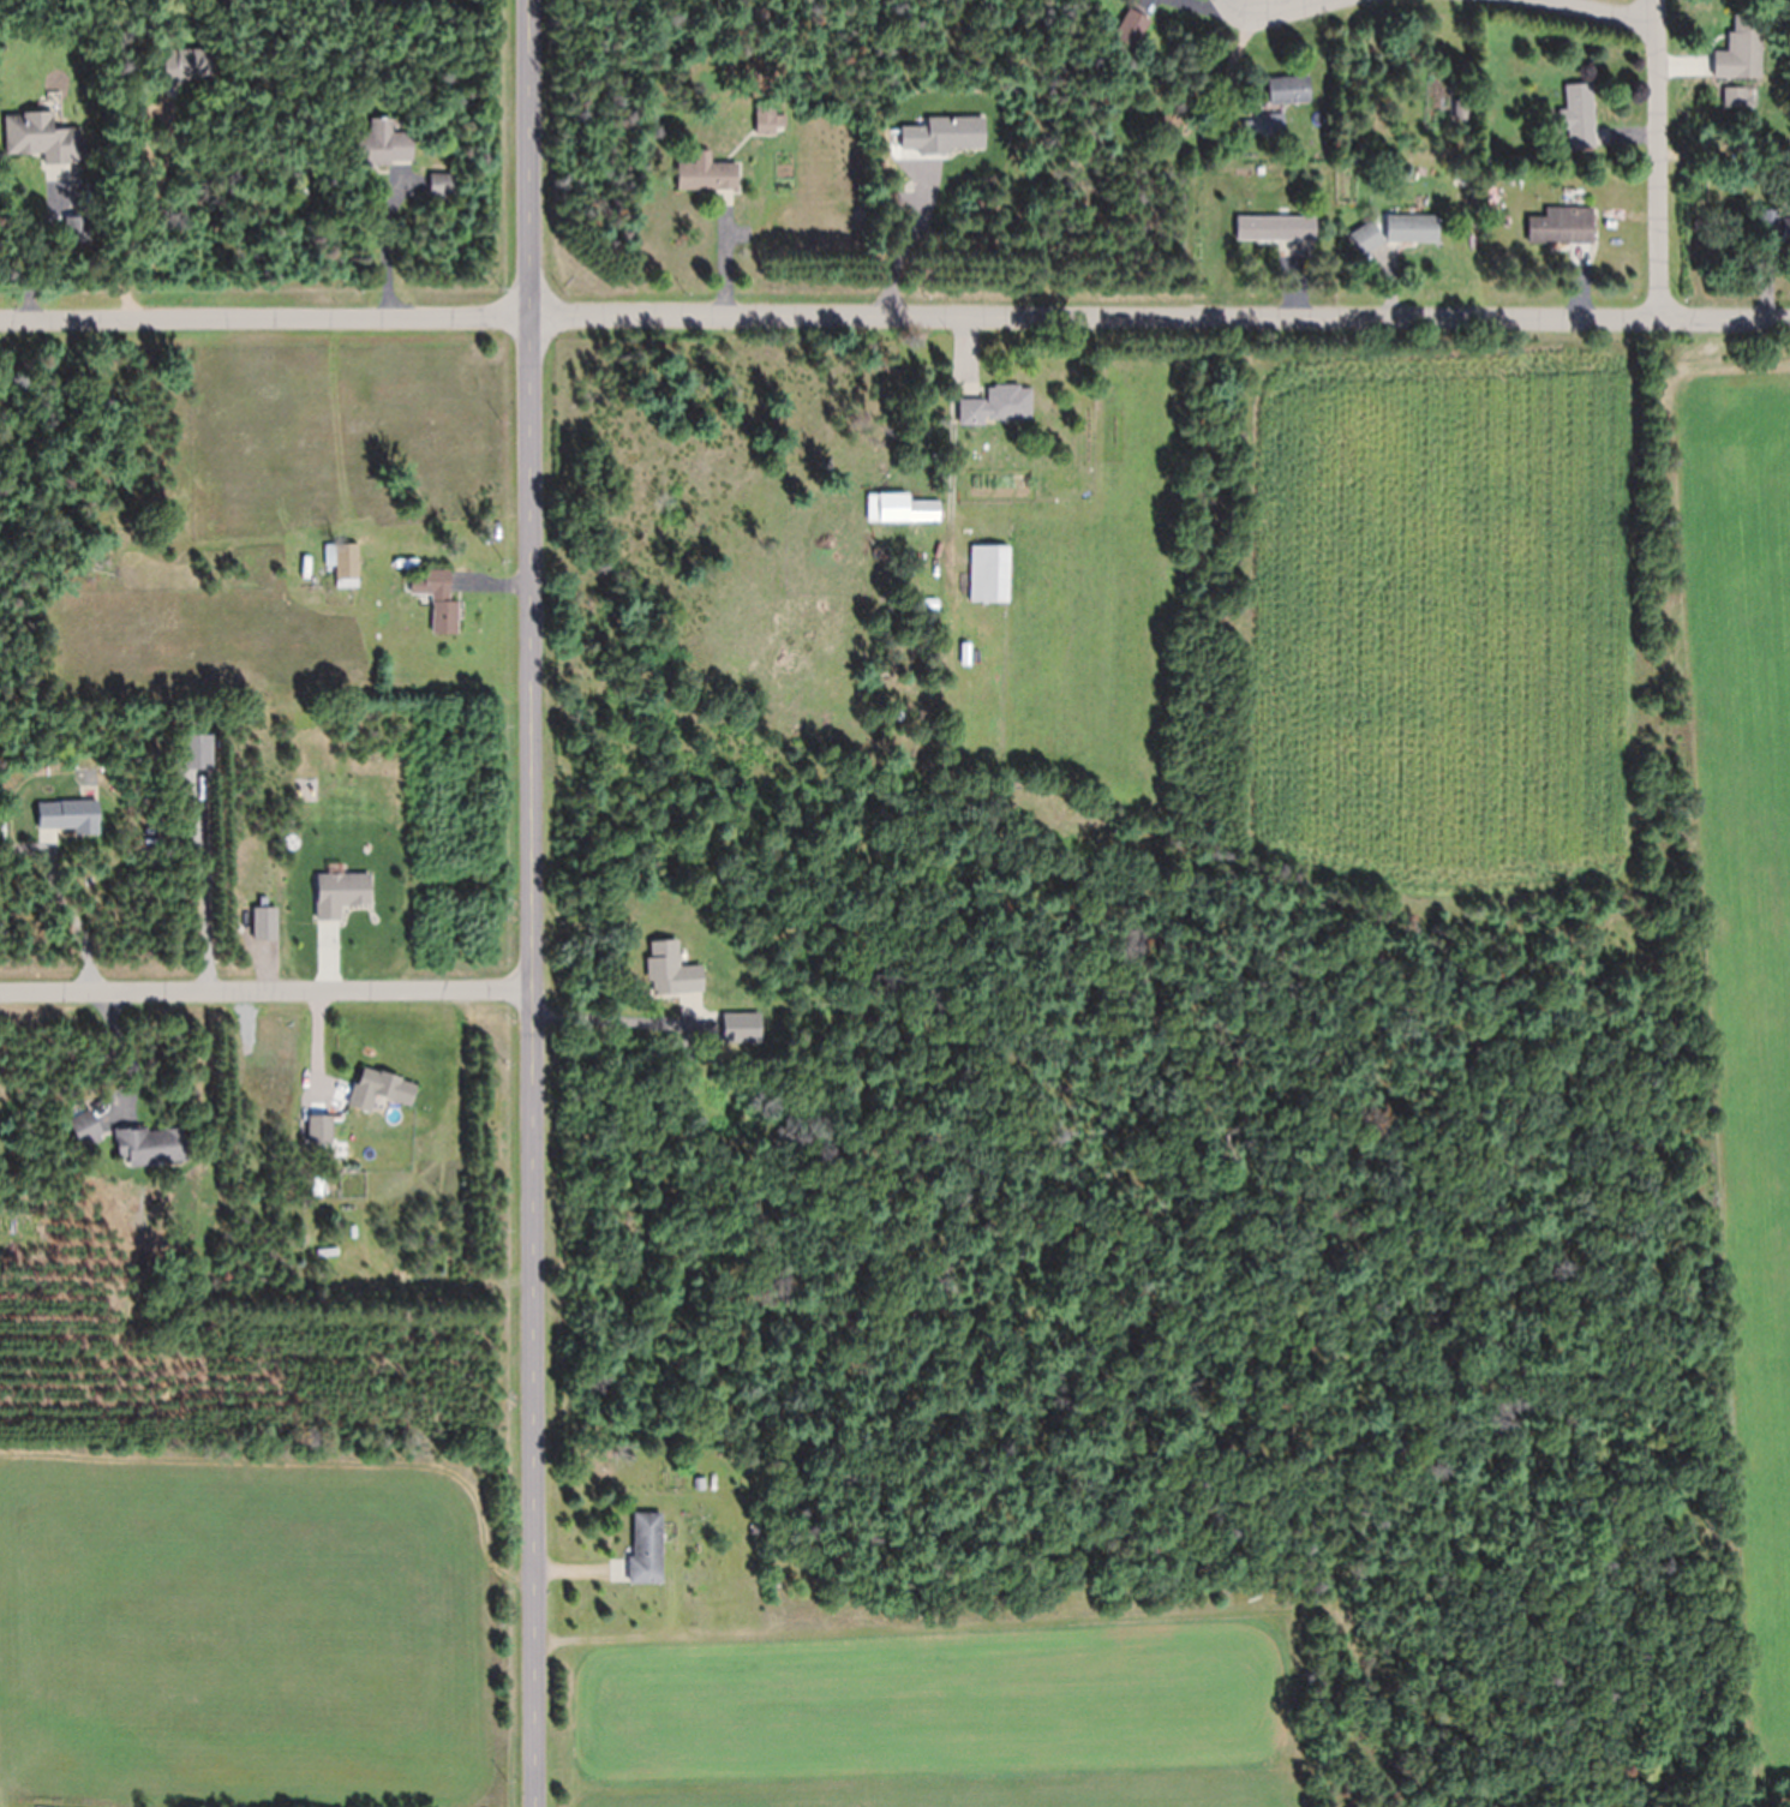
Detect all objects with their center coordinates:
road: (1293, 2)
road: (1600, 10)
building: (1131, 29)
building: (1747, 47)
building: (187, 66)
building: (1287, 91)
building: (1740, 97)
building: (1578, 116)
building: (768, 118)
building: (1273, 126)
building: (42, 139)
building: (382, 145)
road: (1659, 161)
building: (706, 174)
building: (442, 186)
building: (1562, 226)
building: (1275, 228)
building: (1773, 228)
building: (1412, 229)
building: (76, 231)
building: (1366, 238)
road: (894, 316)
building: (998, 406)
building: (900, 510)
building: (342, 564)
building: (989, 575)
building: (430, 584)
building: (444, 618)
crop: (1241, 623)
building: (67, 818)
building: (340, 893)
road: (532, 903)
building: (671, 970)
road: (267, 992)
building: (741, 1028)
building: (379, 1089)
building: (85, 1129)
building: (318, 1129)
building: (151, 1147)
building: (646, 1548)
crop: (268, 1627)
crop: (936, 1713)

